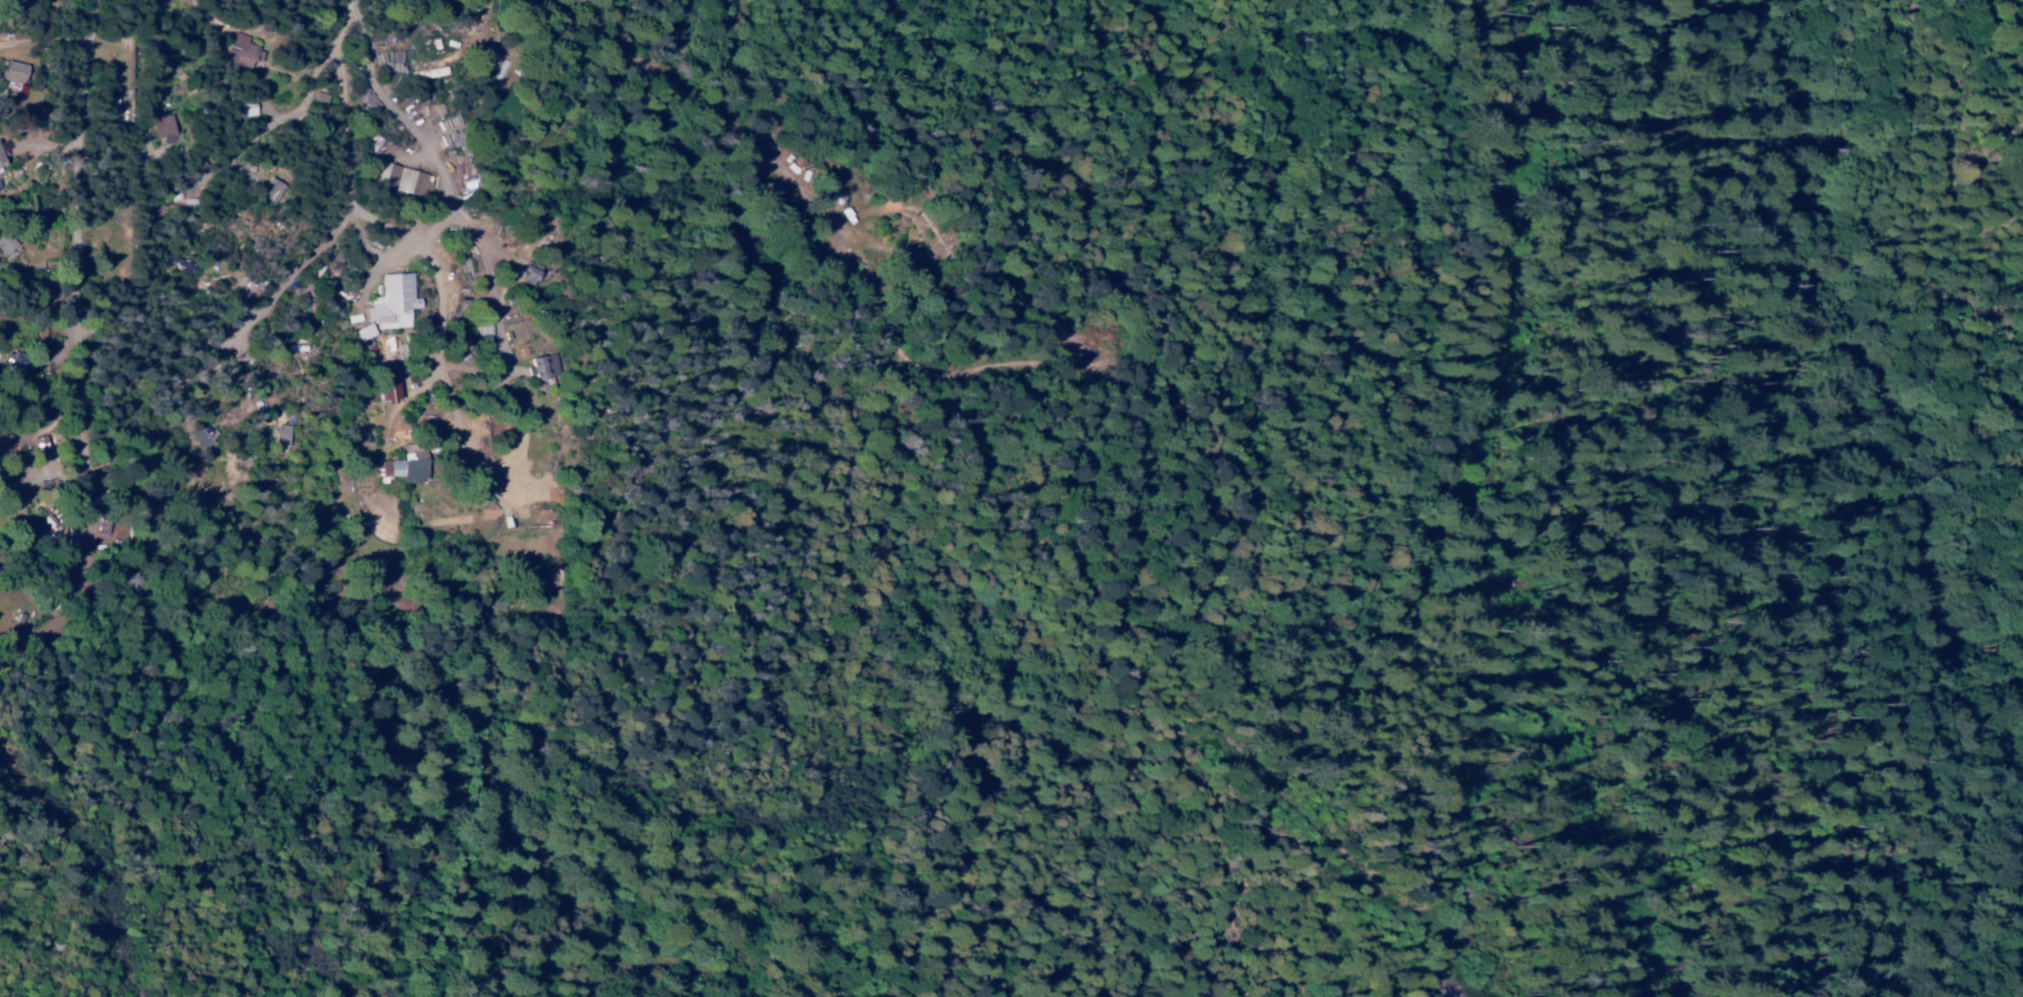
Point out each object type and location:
building: (240, 52)
building: (13, 72)
building: (245, 109)
building: (162, 128)
building: (0, 163)
building: (271, 190)
road: (792, 197)
building: (835, 197)
building: (5, 242)
building: (527, 276)
building: (392, 302)
road: (78, 322)
building: (363, 332)
building: (13, 361)
building: (543, 367)
building: (386, 391)
building: (201, 435)
building: (280, 435)
building: (401, 469)
building: (11, 476)

